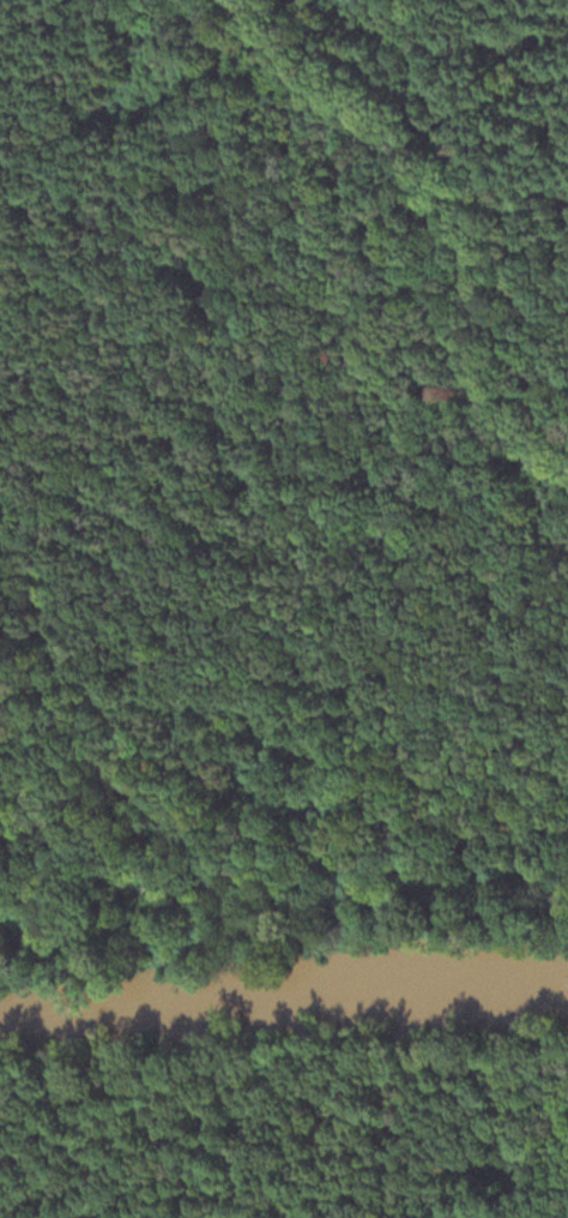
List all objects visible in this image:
river: (282, 1028)

